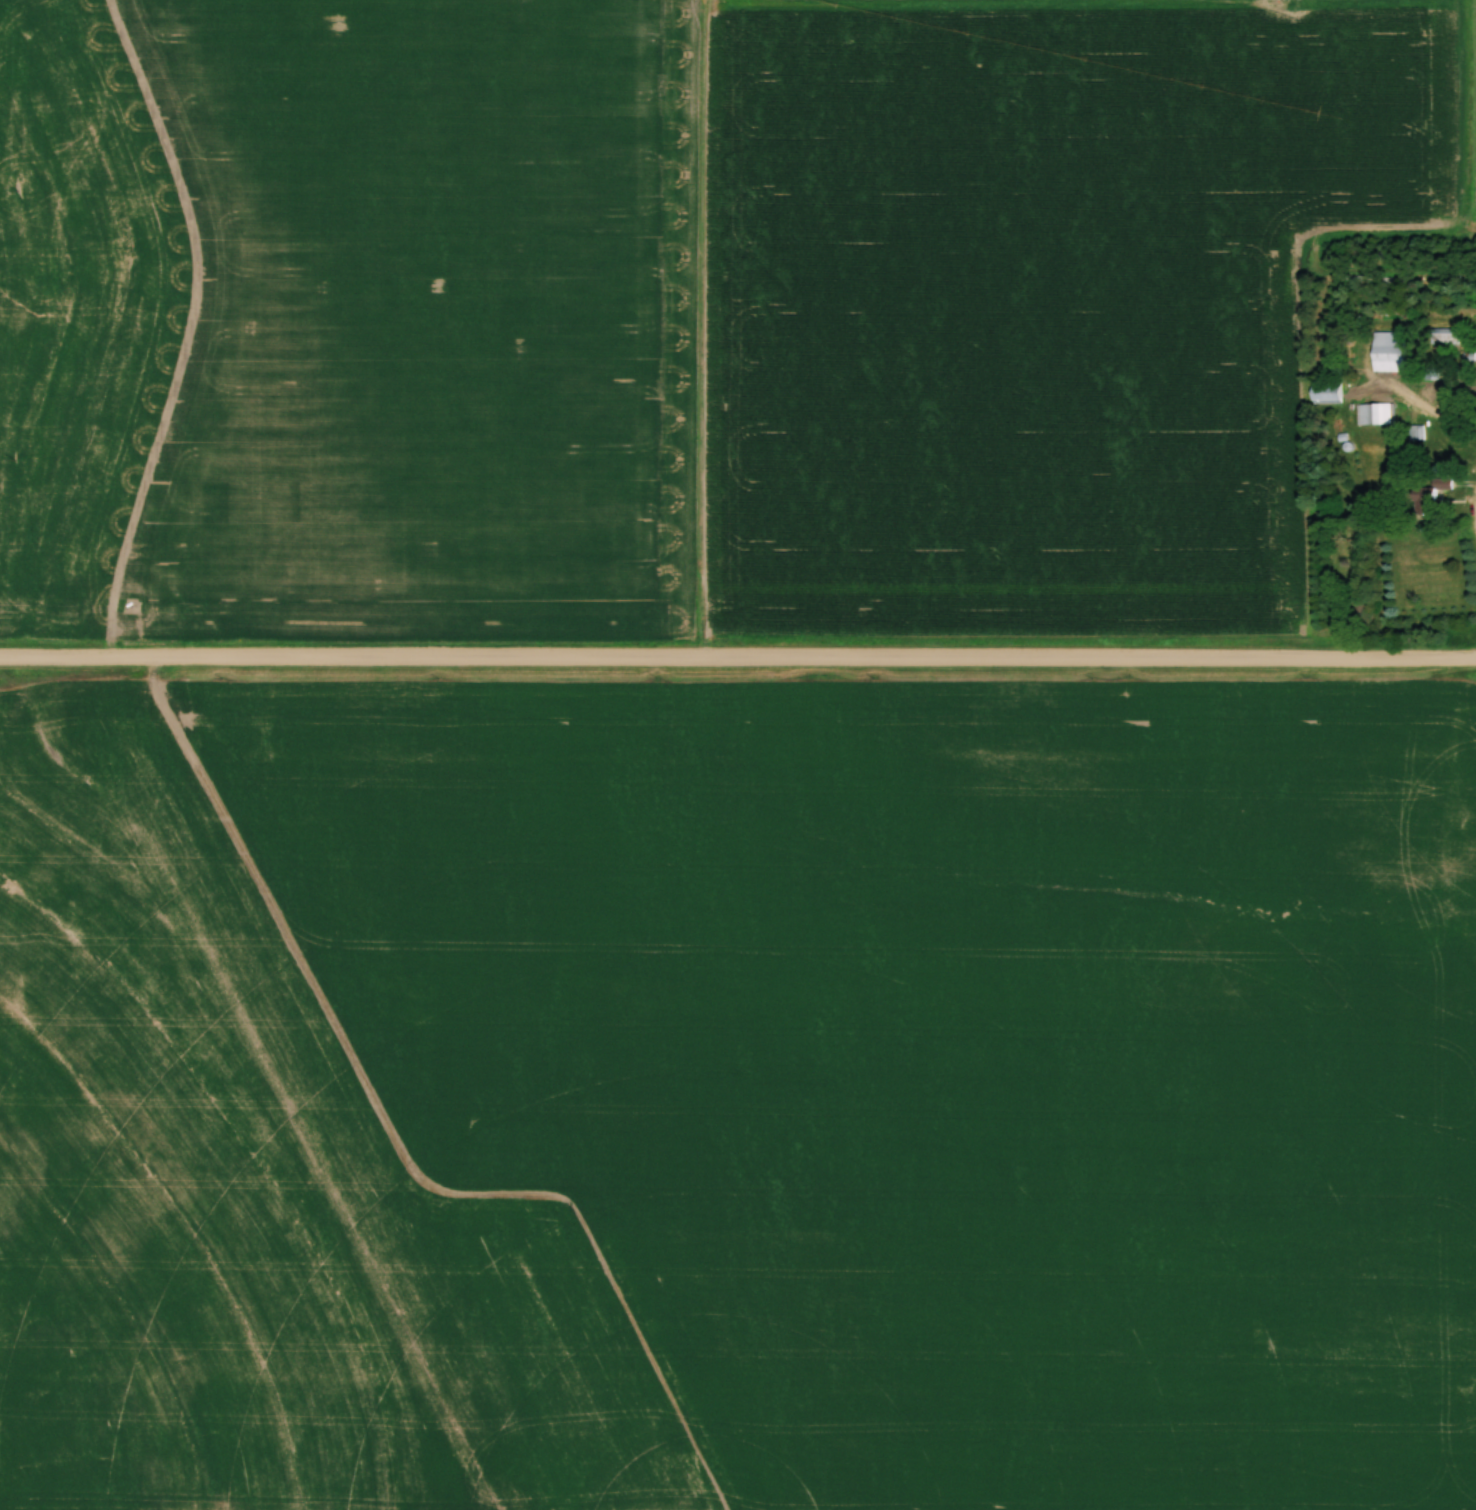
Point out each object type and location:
road: (195, 324)
building: (1447, 336)
building: (1393, 352)
building: (1327, 394)
road: (1436, 406)
building: (1376, 414)
building: (1418, 433)
building: (1428, 500)
road: (738, 657)

